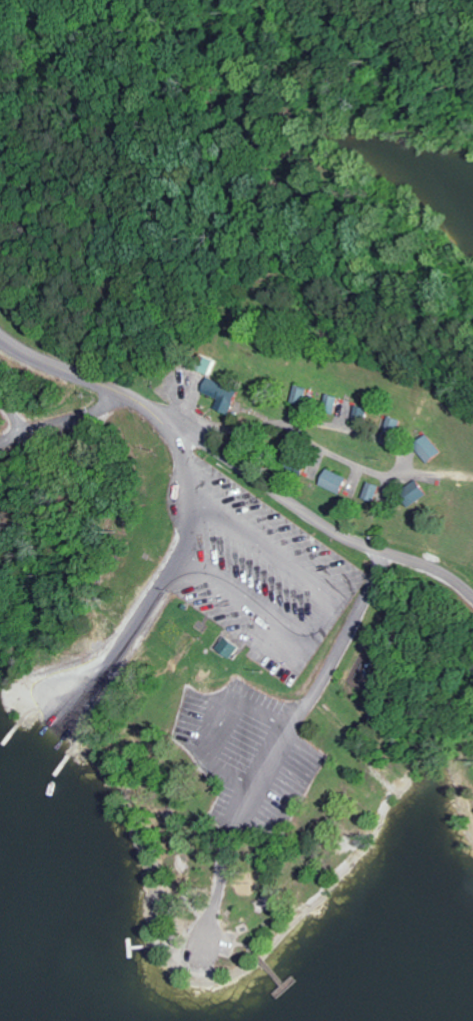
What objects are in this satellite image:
road: (104, 386)
building: (218, 394)
road: (44, 413)
road: (11, 421)
park: (236, 447)
building: (425, 448)
building: (329, 480)
building: (367, 491)
building: (409, 493)
road: (312, 510)
parking lot: (250, 579)
road: (132, 625)
building: (225, 647)
parking lot: (297, 731)
parking lot: (248, 753)
road: (256, 793)

